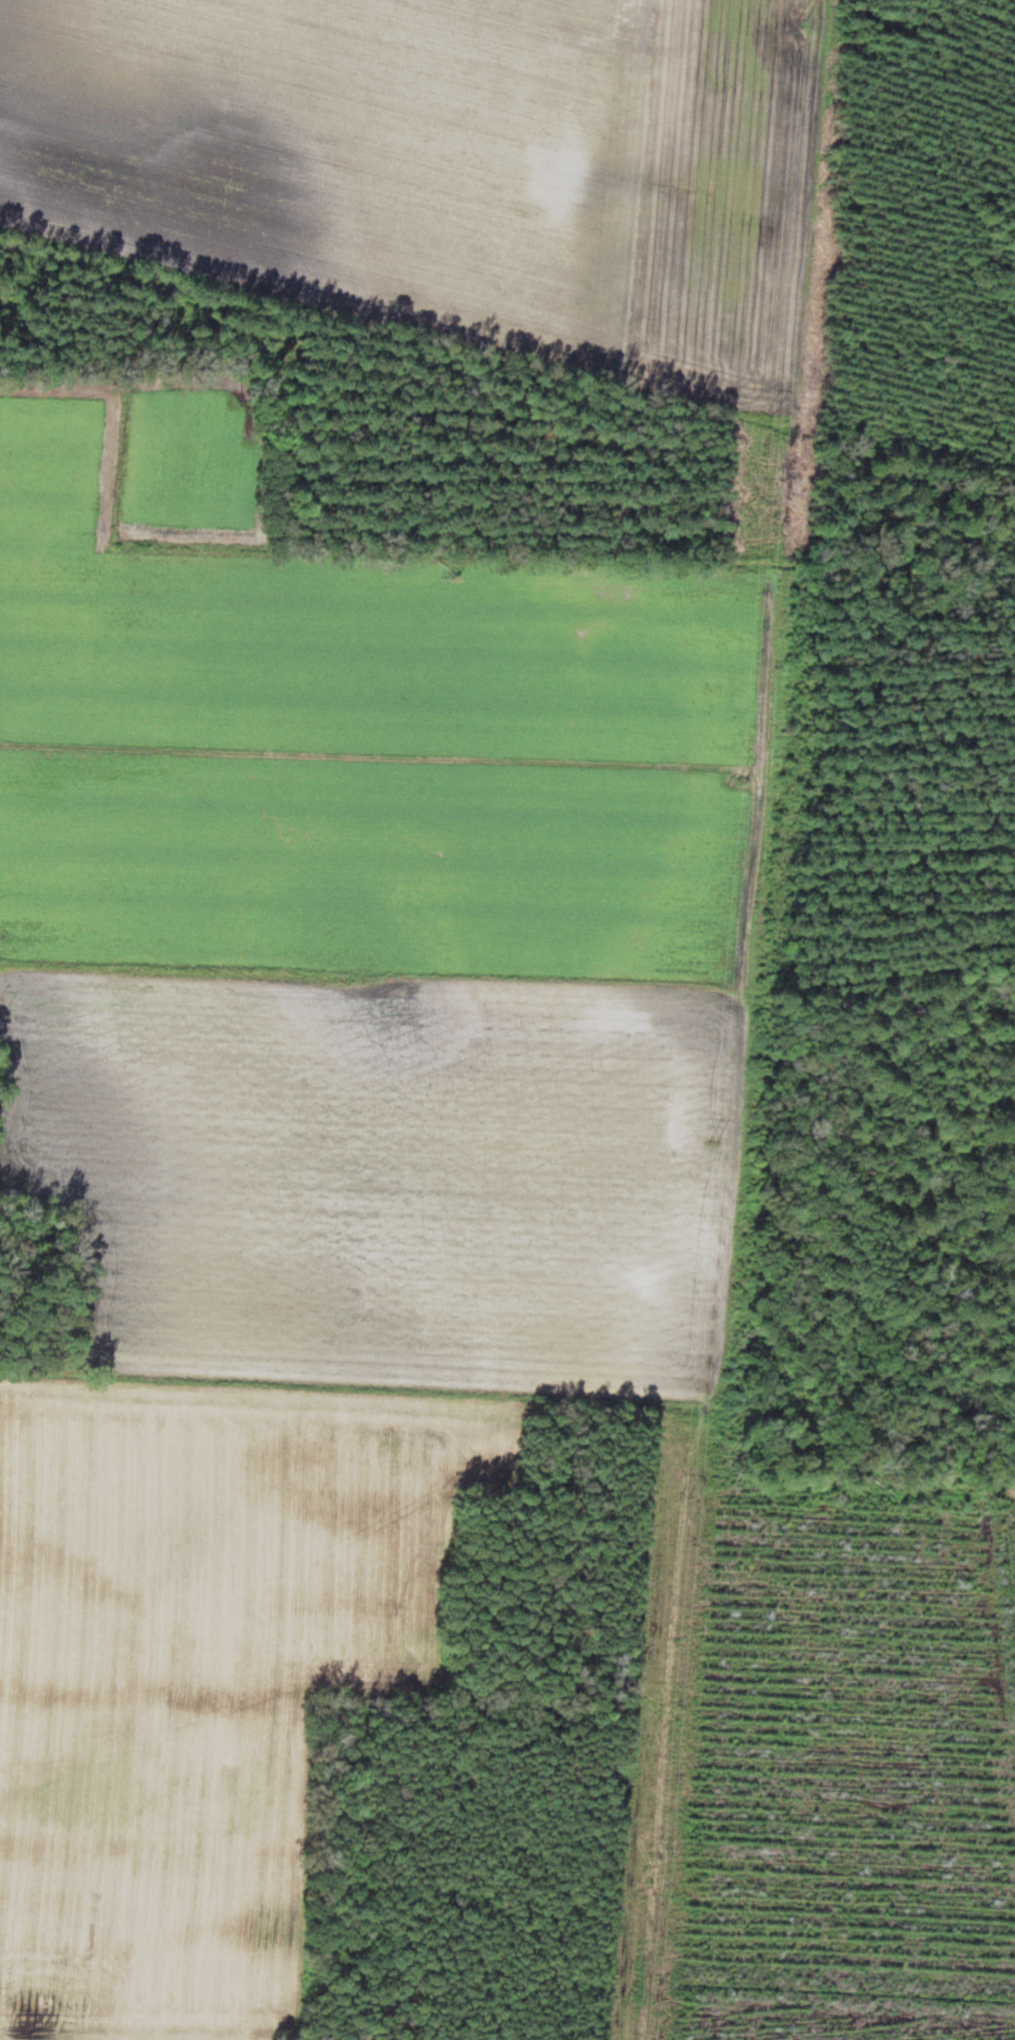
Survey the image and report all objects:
power tower: (804, 17)
power tower: (773, 415)
power tower: (744, 778)
power tower: (715, 1142)
power tower: (687, 1497)
power tower: (658, 1857)

